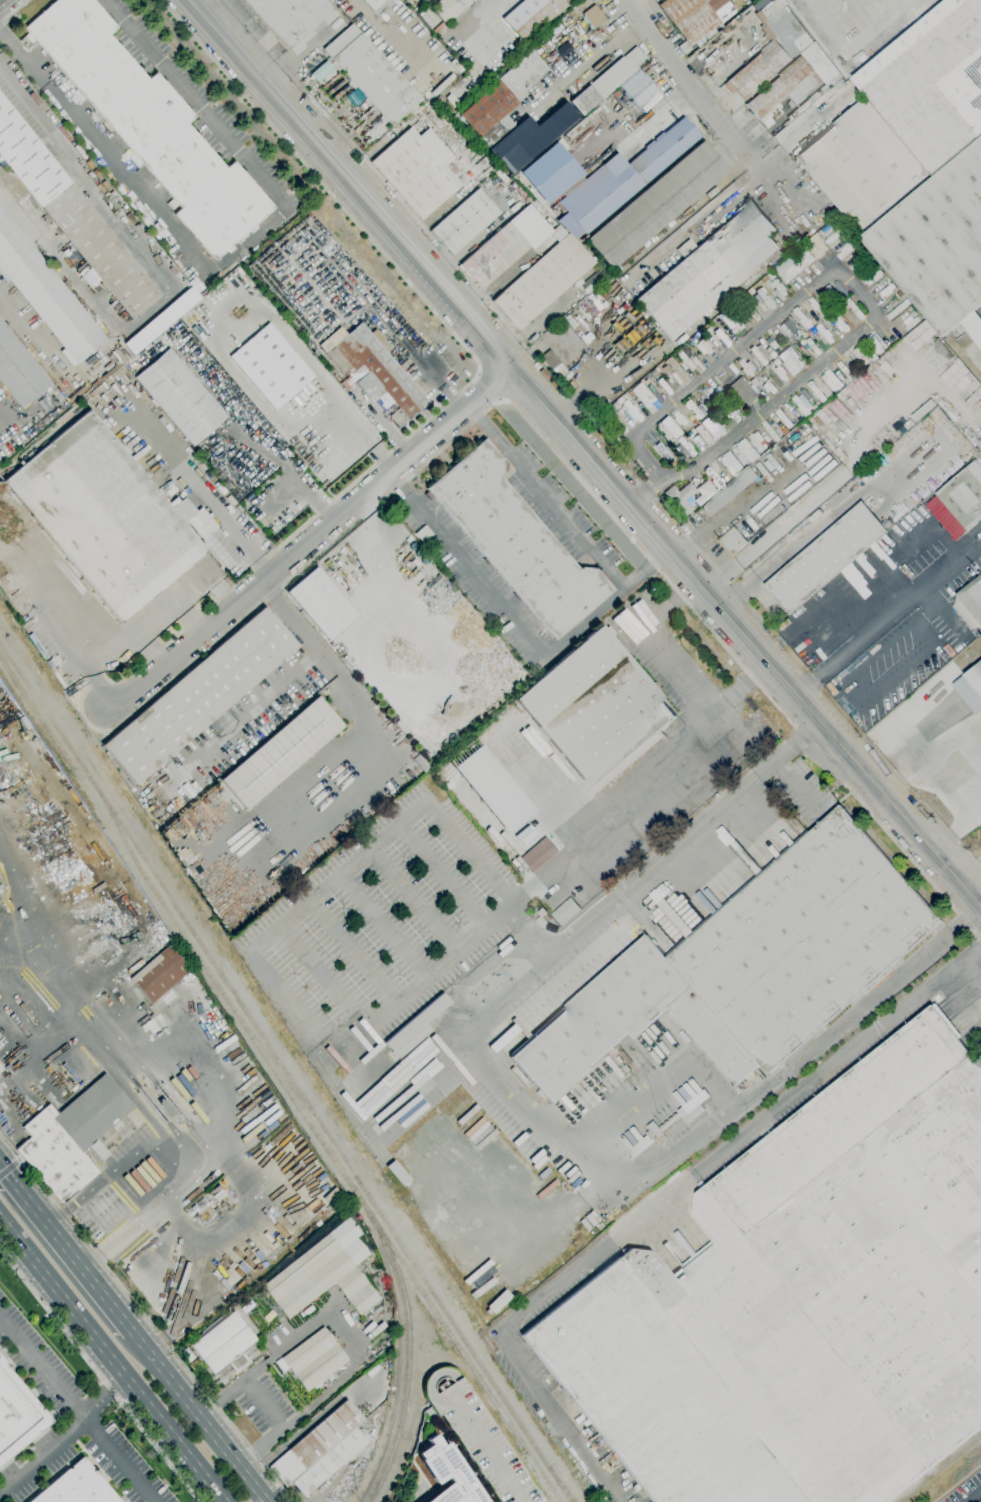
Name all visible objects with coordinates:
building: (372, 3)
building: (449, 9)
road: (14, 12)
building: (532, 16)
building: (592, 16)
building: (695, 16)
building: (291, 19)
road: (469, 26)
road: (377, 29)
road: (857, 36)
building: (771, 47)
building: (683, 48)
building: (370, 75)
building: (606, 81)
road: (691, 82)
building: (932, 82)
building: (795, 85)
building: (637, 88)
building: (501, 99)
building: (451, 100)
building: (442, 106)
road: (663, 114)
building: (149, 124)
building: (529, 138)
building: (862, 164)
building: (416, 171)
building: (548, 172)
building: (623, 178)
road: (769, 181)
road: (104, 205)
building: (656, 206)
road: (436, 213)
building: (73, 215)
building: (463, 222)
building: (529, 226)
building: (938, 242)
building: (168, 244)
road: (825, 252)
road: (232, 254)
road: (440, 254)
building: (493, 256)
building: (794, 264)
building: (708, 271)
road: (846, 276)
building: (216, 279)
building: (542, 282)
road: (619, 290)
building: (45, 294)
building: (899, 295)
building: (762, 299)
building: (898, 308)
building: (854, 310)
building: (161, 318)
road: (889, 326)
road: (115, 327)
building: (973, 327)
building: (787, 328)
building: (825, 333)
building: (770, 343)
building: (813, 346)
building: (702, 347)
road: (494, 350)
building: (759, 355)
building: (772, 355)
building: (790, 360)
building: (550, 361)
building: (687, 361)
building: (121, 367)
building: (271, 367)
building: (845, 369)
building: (20, 371)
building: (375, 372)
building: (674, 372)
building: (832, 380)
building: (343, 384)
building: (742, 391)
building: (707, 396)
building: (179, 397)
building: (644, 398)
building: (695, 409)
building: (924, 410)
building: (729, 417)
building: (785, 419)
building: (693, 423)
building: (909, 424)
building: (712, 426)
road: (357, 427)
building: (771, 431)
building: (702, 436)
building: (972, 438)
building: (684, 447)
building: (662, 450)
road: (581, 458)
building: (729, 463)
road: (198, 488)
building: (729, 491)
road: (640, 492)
building: (703, 493)
building: (964, 495)
building: (680, 498)
road: (564, 515)
building: (103, 516)
road: (816, 524)
road: (704, 528)
building: (206, 532)
building: (732, 541)
road: (307, 542)
building: (515, 542)
building: (825, 557)
road: (706, 559)
road: (870, 574)
building: (320, 603)
building: (970, 603)
road: (498, 605)
road: (897, 607)
road: (68, 611)
road: (185, 615)
road: (144, 616)
building: (497, 623)
road: (652, 645)
road: (146, 647)
road: (769, 647)
road: (314, 650)
road: (177, 675)
road: (743, 685)
building: (971, 687)
road: (806, 688)
building: (199, 696)
building: (596, 710)
road: (705, 718)
road: (736, 723)
building: (399, 725)
building: (430, 738)
road: (787, 750)
building: (280, 753)
building: (420, 763)
road: (796, 786)
building: (492, 789)
railway: (118, 830)
road: (953, 830)
road: (594, 833)
road: (372, 844)
building: (538, 854)
road: (966, 869)
road: (442, 874)
road: (413, 899)
building: (566, 911)
building: (542, 917)
road: (384, 924)
railway: (182, 935)
road: (980, 943)
road: (972, 950)
building: (750, 964)
road: (439, 966)
road: (973, 966)
road: (314, 968)
building: (158, 974)
building: (415, 1028)
building: (0, 1047)
building: (0, 1068)
railway: (284, 1073)
building: (693, 1106)
building: (574, 1117)
road: (552, 1134)
building: (70, 1136)
road: (10, 1167)
road: (166, 1200)
building: (596, 1206)
road: (654, 1209)
road: (65, 1249)
building: (323, 1273)
building: (804, 1301)
road: (145, 1317)
road: (342, 1336)
building: (223, 1344)
railway: (405, 1355)
railway: (461, 1355)
building: (313, 1359)
road: (112, 1360)
road: (254, 1372)
building: (278, 1372)
road: (99, 1376)
road: (104, 1396)
road: (261, 1403)
parking lot: (264, 1404)
road: (77, 1408)
building: (16, 1415)
road: (197, 1417)
road: (290, 1421)
road: (306, 1424)
building: (478, 1438)
parking lot: (478, 1438)
building: (320, 1450)
road: (42, 1455)
railway: (938, 1468)
building: (446, 1474)
building: (75, 1487)
railway: (562, 1487)
road: (975, 1497)

